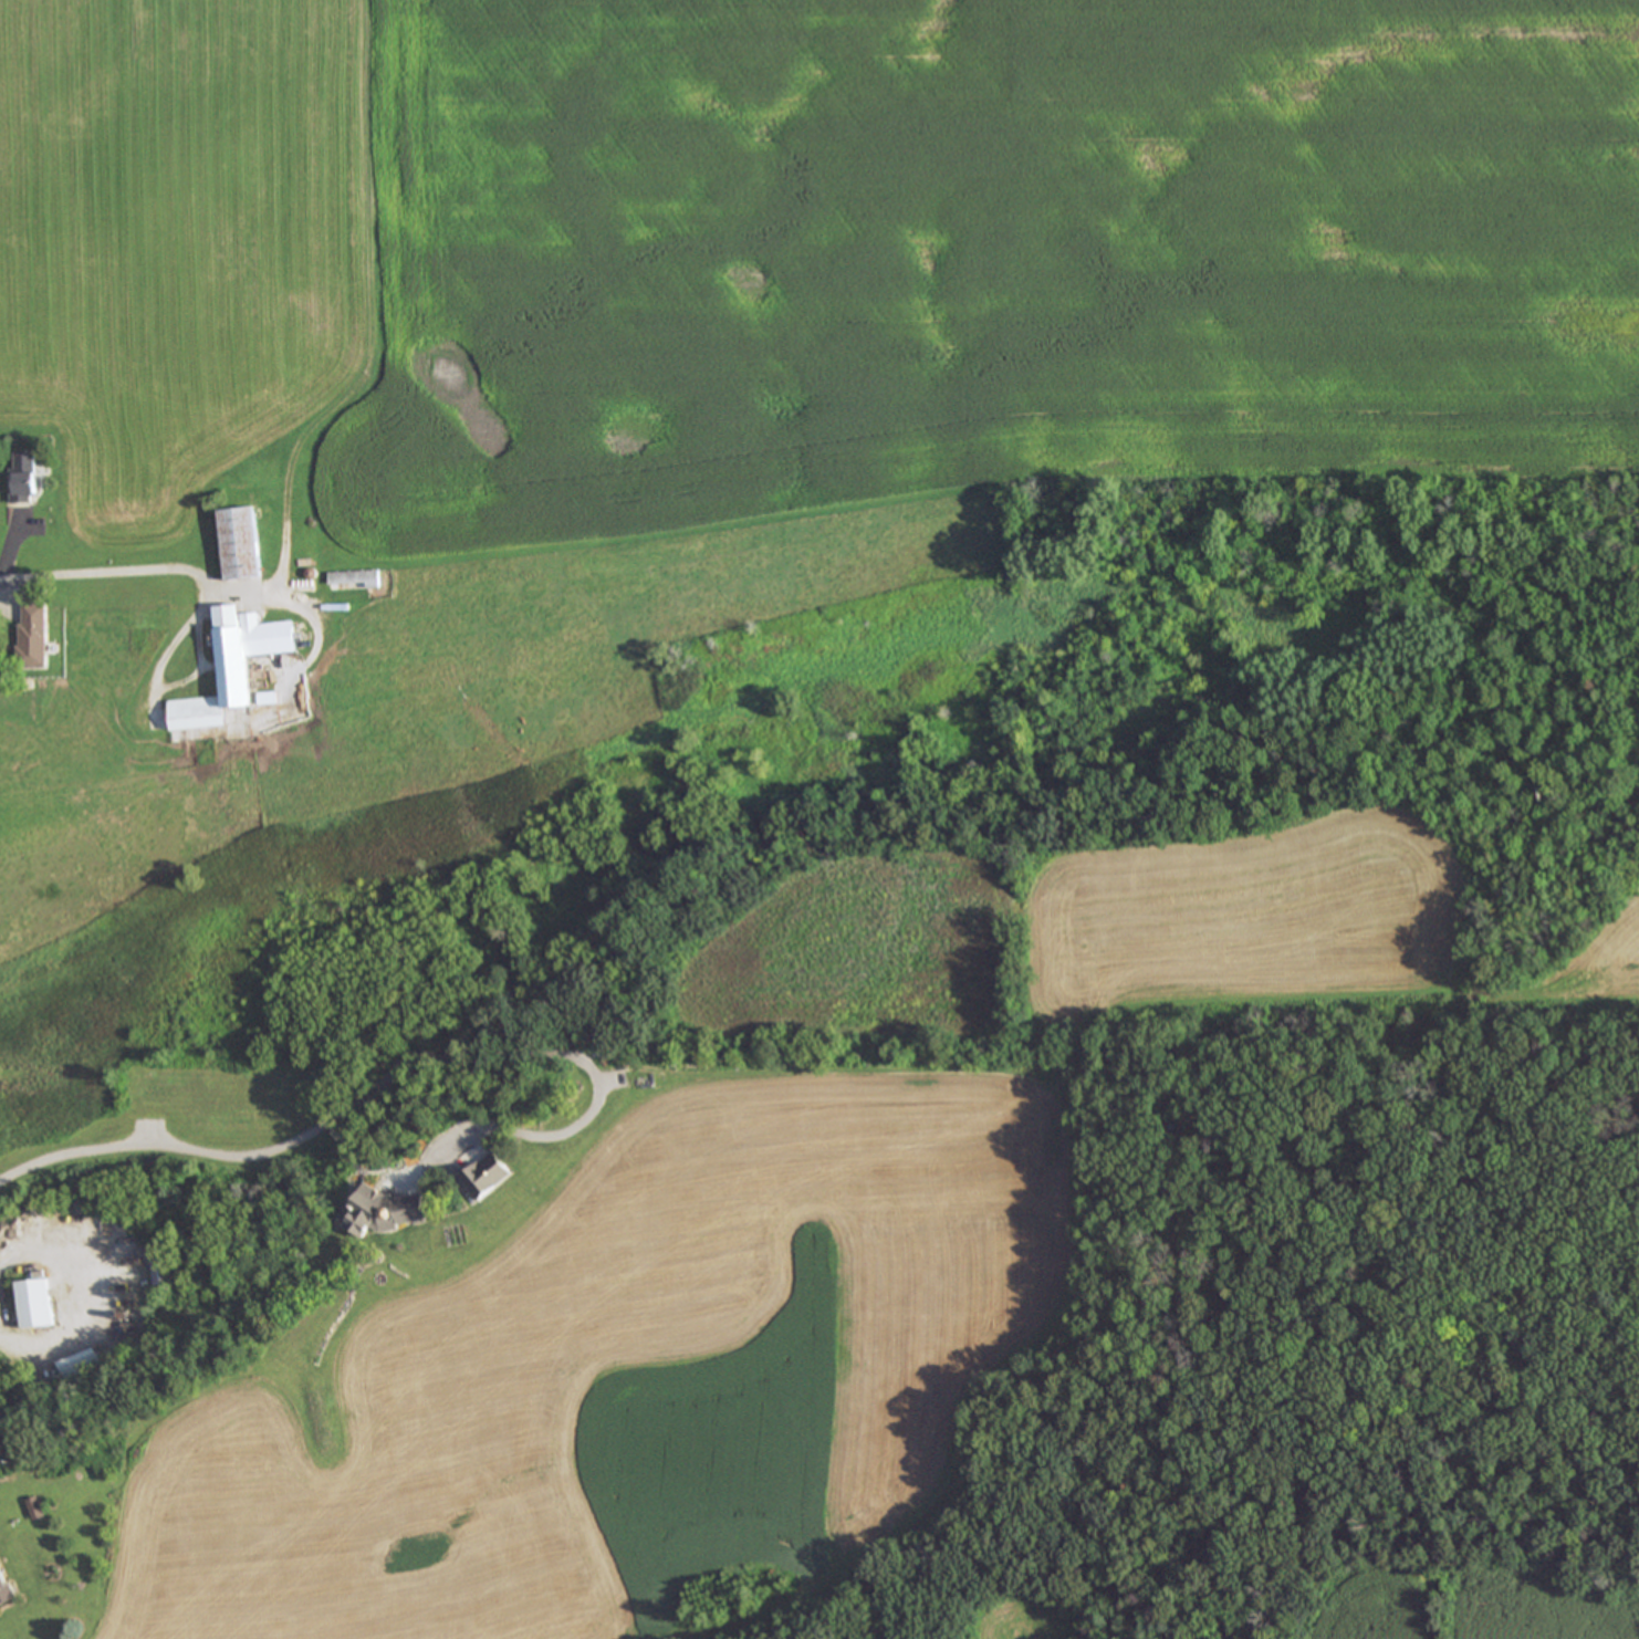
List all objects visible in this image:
building: (28, 480)
building: (246, 545)
road: (165, 568)
building: (358, 582)
building: (36, 638)
building: (237, 670)
road: (396, 1074)
building: (490, 1178)
building: (395, 1212)
building: (137, 1214)
building: (158, 1273)
road: (76, 1296)
building: (35, 1306)
building: (6, 1589)

